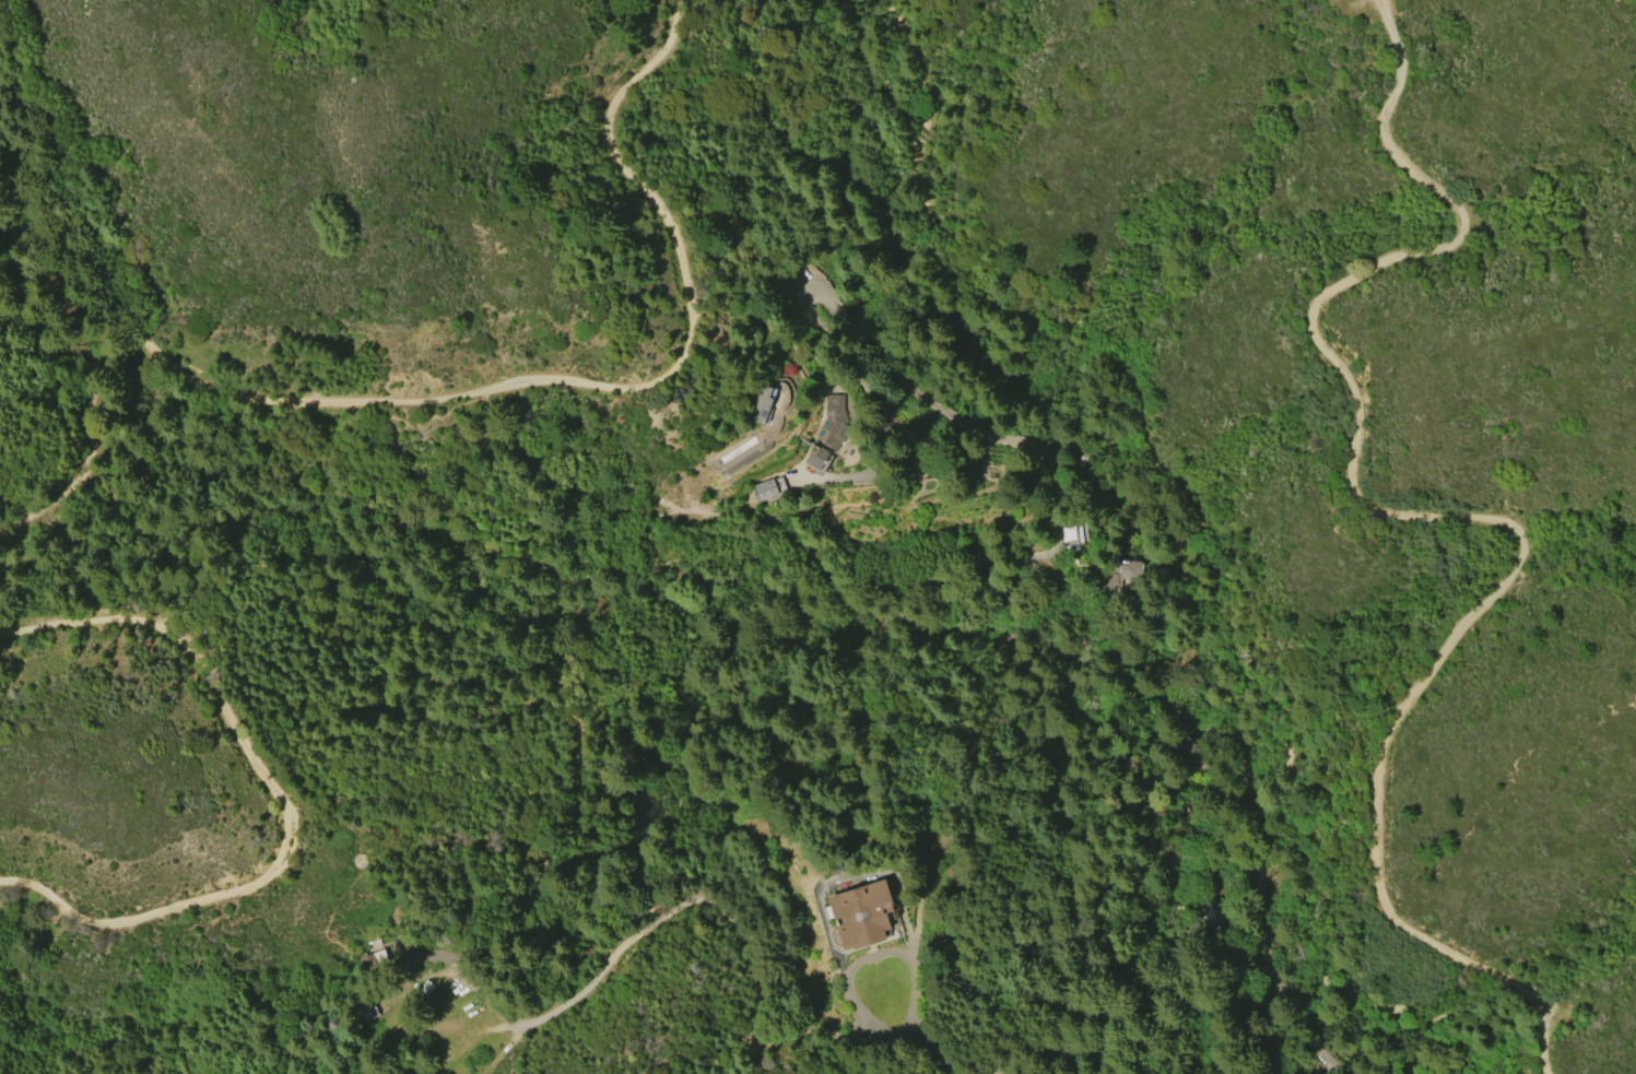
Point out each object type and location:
road: (685, 304)
road: (145, 345)
building: (765, 404)
building: (826, 435)
building: (765, 489)
road: (1459, 514)
road: (1187, 523)
road: (1189, 719)
road: (272, 793)
road: (1161, 849)
building: (1213, 883)
building: (859, 914)
building: (1208, 914)
road: (739, 930)
road: (874, 955)
road: (679, 1002)
road: (922, 1055)
road: (1472, 1072)
building: (1292, 1073)

